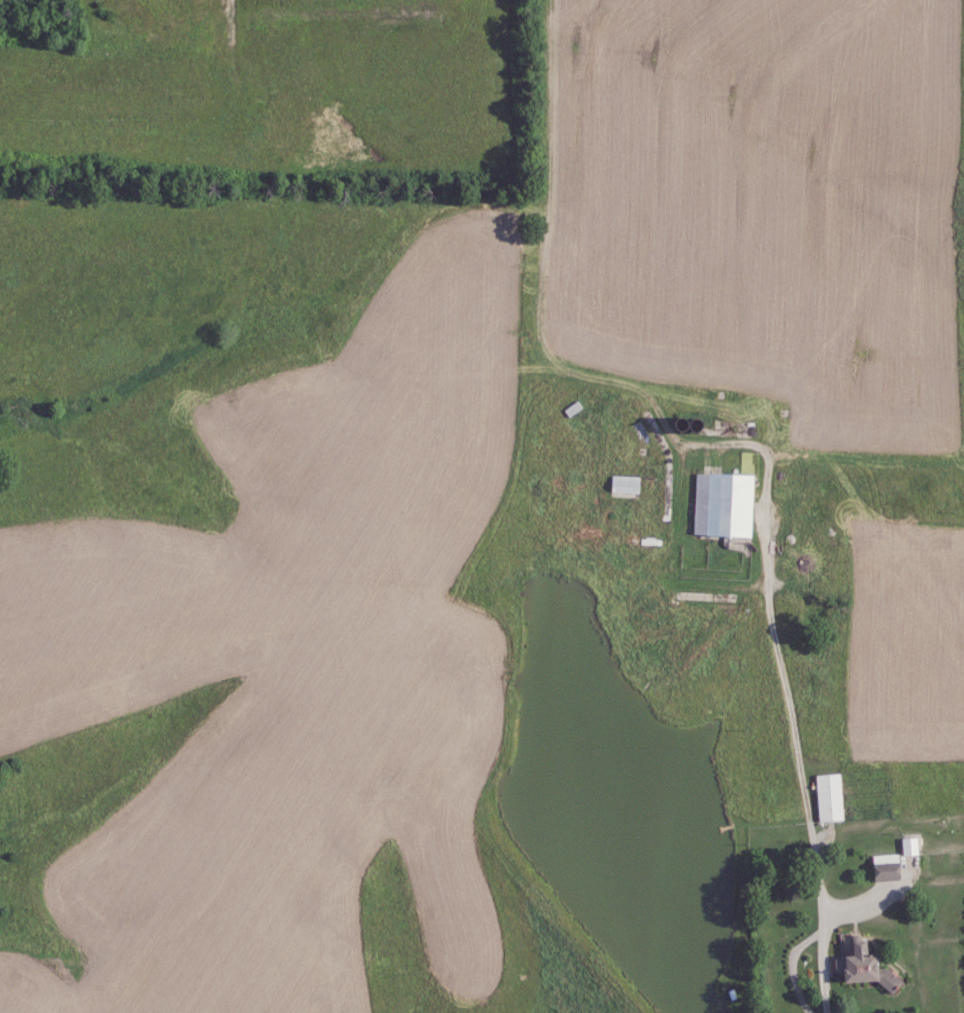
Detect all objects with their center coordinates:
building: (624, 484)
building: (722, 506)
road: (791, 717)
building: (829, 798)
building: (908, 846)
building: (884, 867)
road: (859, 896)
road: (808, 932)
building: (847, 942)
building: (862, 968)

